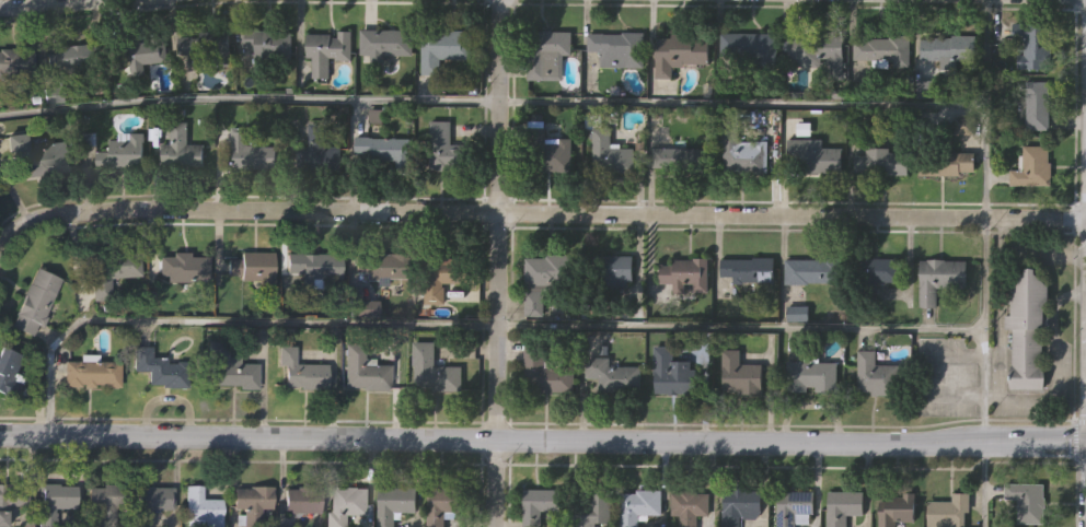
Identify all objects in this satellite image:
road: (49, 4)
building: (382, 44)
building: (1033, 44)
building: (208, 46)
building: (269, 46)
building: (440, 47)
building: (617, 47)
building: (752, 47)
building: (326, 49)
building: (882, 49)
building: (948, 49)
building: (679, 50)
building: (142, 51)
building: (545, 51)
building: (819, 51)
building: (77, 55)
building: (16, 61)
road: (250, 98)
road: (743, 101)
building: (1033, 102)
road: (986, 107)
building: (963, 127)
building: (443, 144)
building: (182, 147)
building: (609, 147)
building: (547, 148)
building: (741, 148)
building: (314, 149)
building: (382, 149)
building: (120, 152)
building: (249, 153)
building: (37, 155)
building: (813, 155)
building: (683, 157)
building: (881, 161)
building: (945, 162)
building: (1032, 165)
road: (535, 212)
road: (498, 219)
building: (383, 263)
building: (312, 266)
building: (253, 267)
building: (185, 268)
building: (749, 268)
building: (111, 269)
building: (610, 269)
building: (811, 270)
building: (685, 272)
building: (877, 273)
building: (441, 276)
building: (544, 276)
building: (936, 279)
building: (35, 301)
building: (541, 306)
road: (223, 320)
road: (742, 326)
building: (1026, 327)
road: (986, 328)
building: (162, 366)
building: (231, 366)
building: (436, 367)
building: (303, 368)
building: (367, 368)
building: (547, 370)
building: (93, 371)
building: (673, 371)
building: (741, 372)
building: (614, 373)
building: (812, 373)
building: (877, 373)
building: (13, 374)
road: (249, 436)
road: (792, 443)
road: (497, 483)
road: (984, 483)
road: (1085, 484)
building: (12, 499)
building: (303, 500)
building: (1026, 500)
building: (56, 501)
building: (107, 501)
building: (152, 502)
building: (253, 502)
building: (395, 502)
building: (348, 503)
building: (443, 504)
building: (539, 504)
building: (640, 505)
building: (691, 505)
building: (741, 505)
building: (842, 506)
building: (203, 507)
building: (793, 508)
building: (897, 508)
building: (591, 510)
building: (947, 511)

